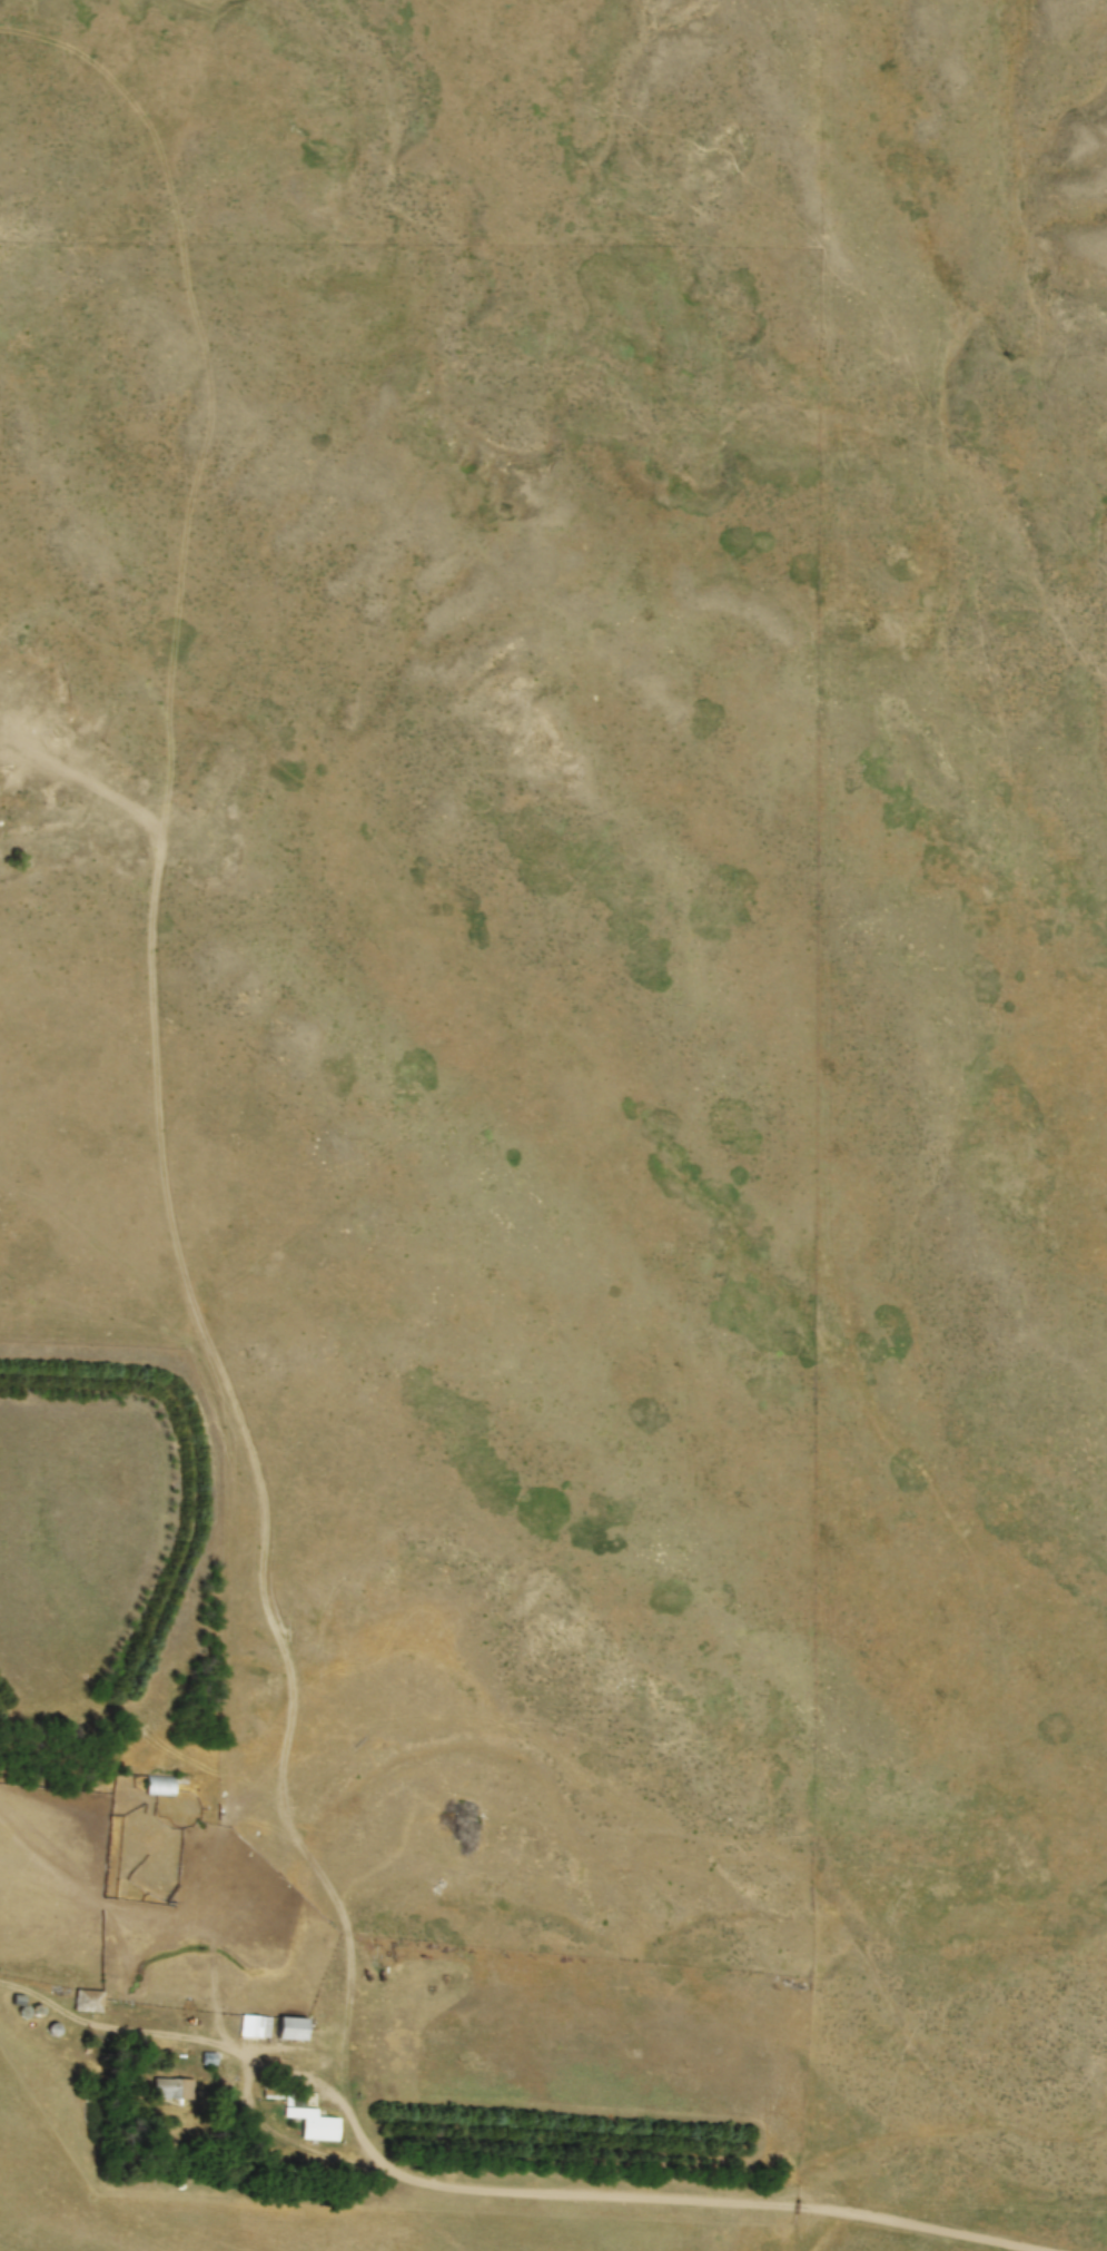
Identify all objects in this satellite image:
building: (164, 1783)
building: (18, 1996)
building: (85, 1997)
silo: (39, 2008)
silo: (23, 2010)
building: (255, 2024)
building: (290, 2025)
silo: (53, 2027)
building: (164, 2086)
building: (309, 2114)
road: (293, 2140)
road: (496, 2189)

